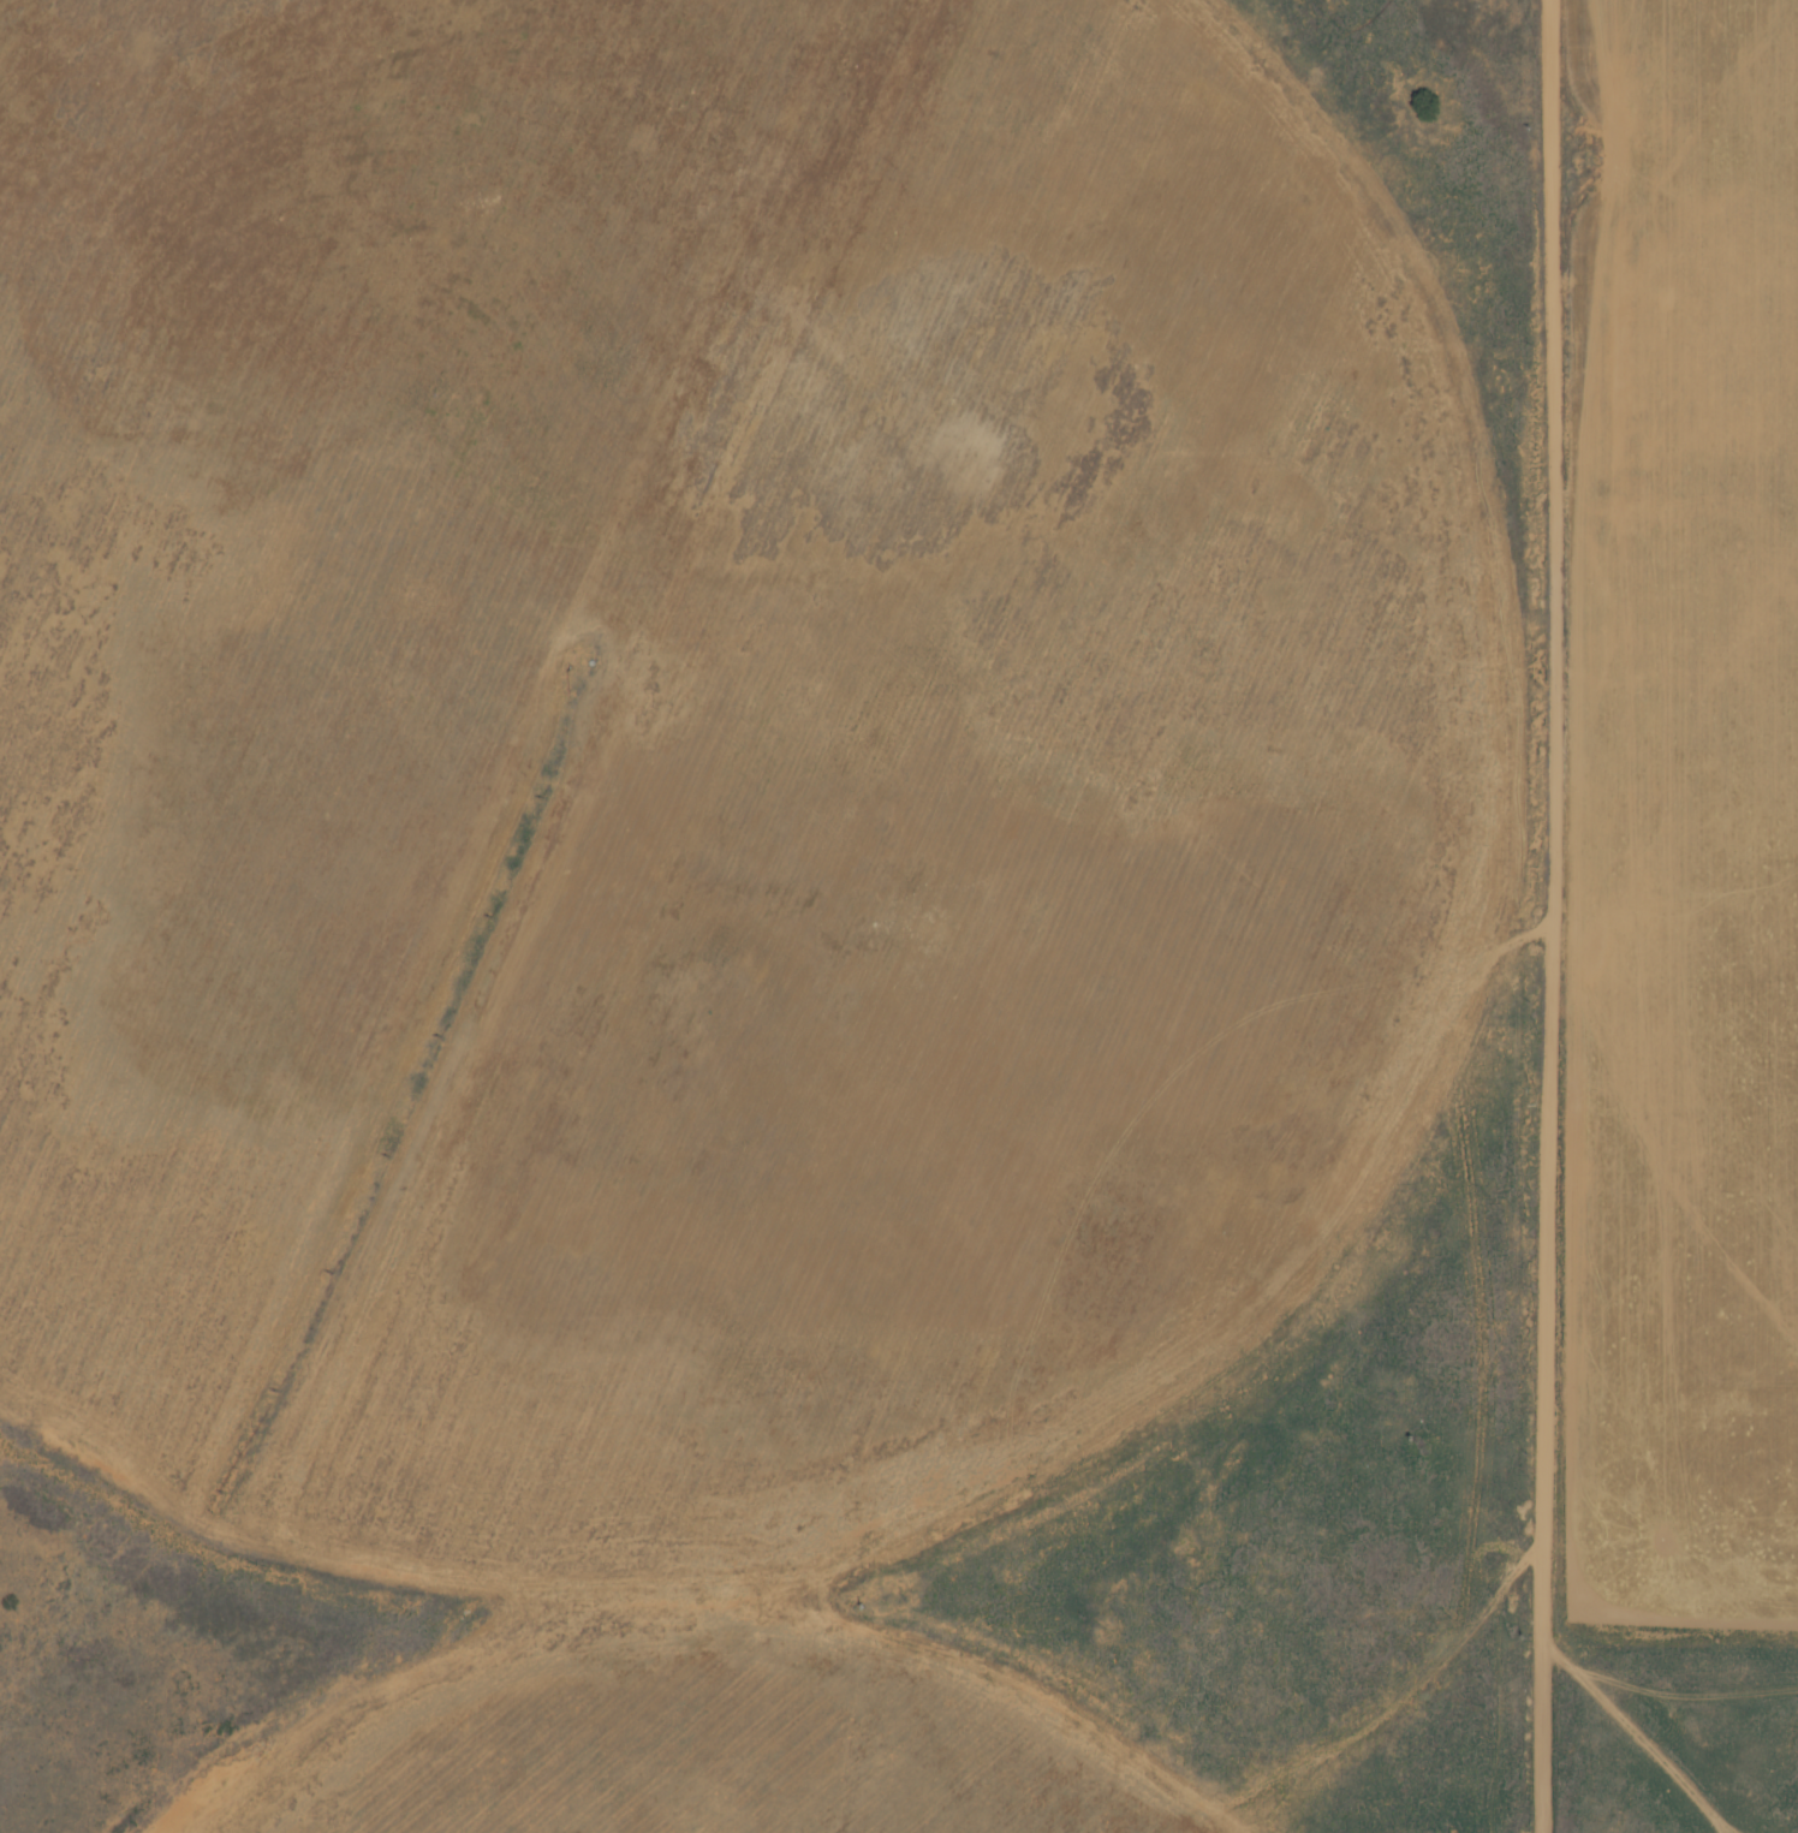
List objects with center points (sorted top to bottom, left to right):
road: (1549, 916)

